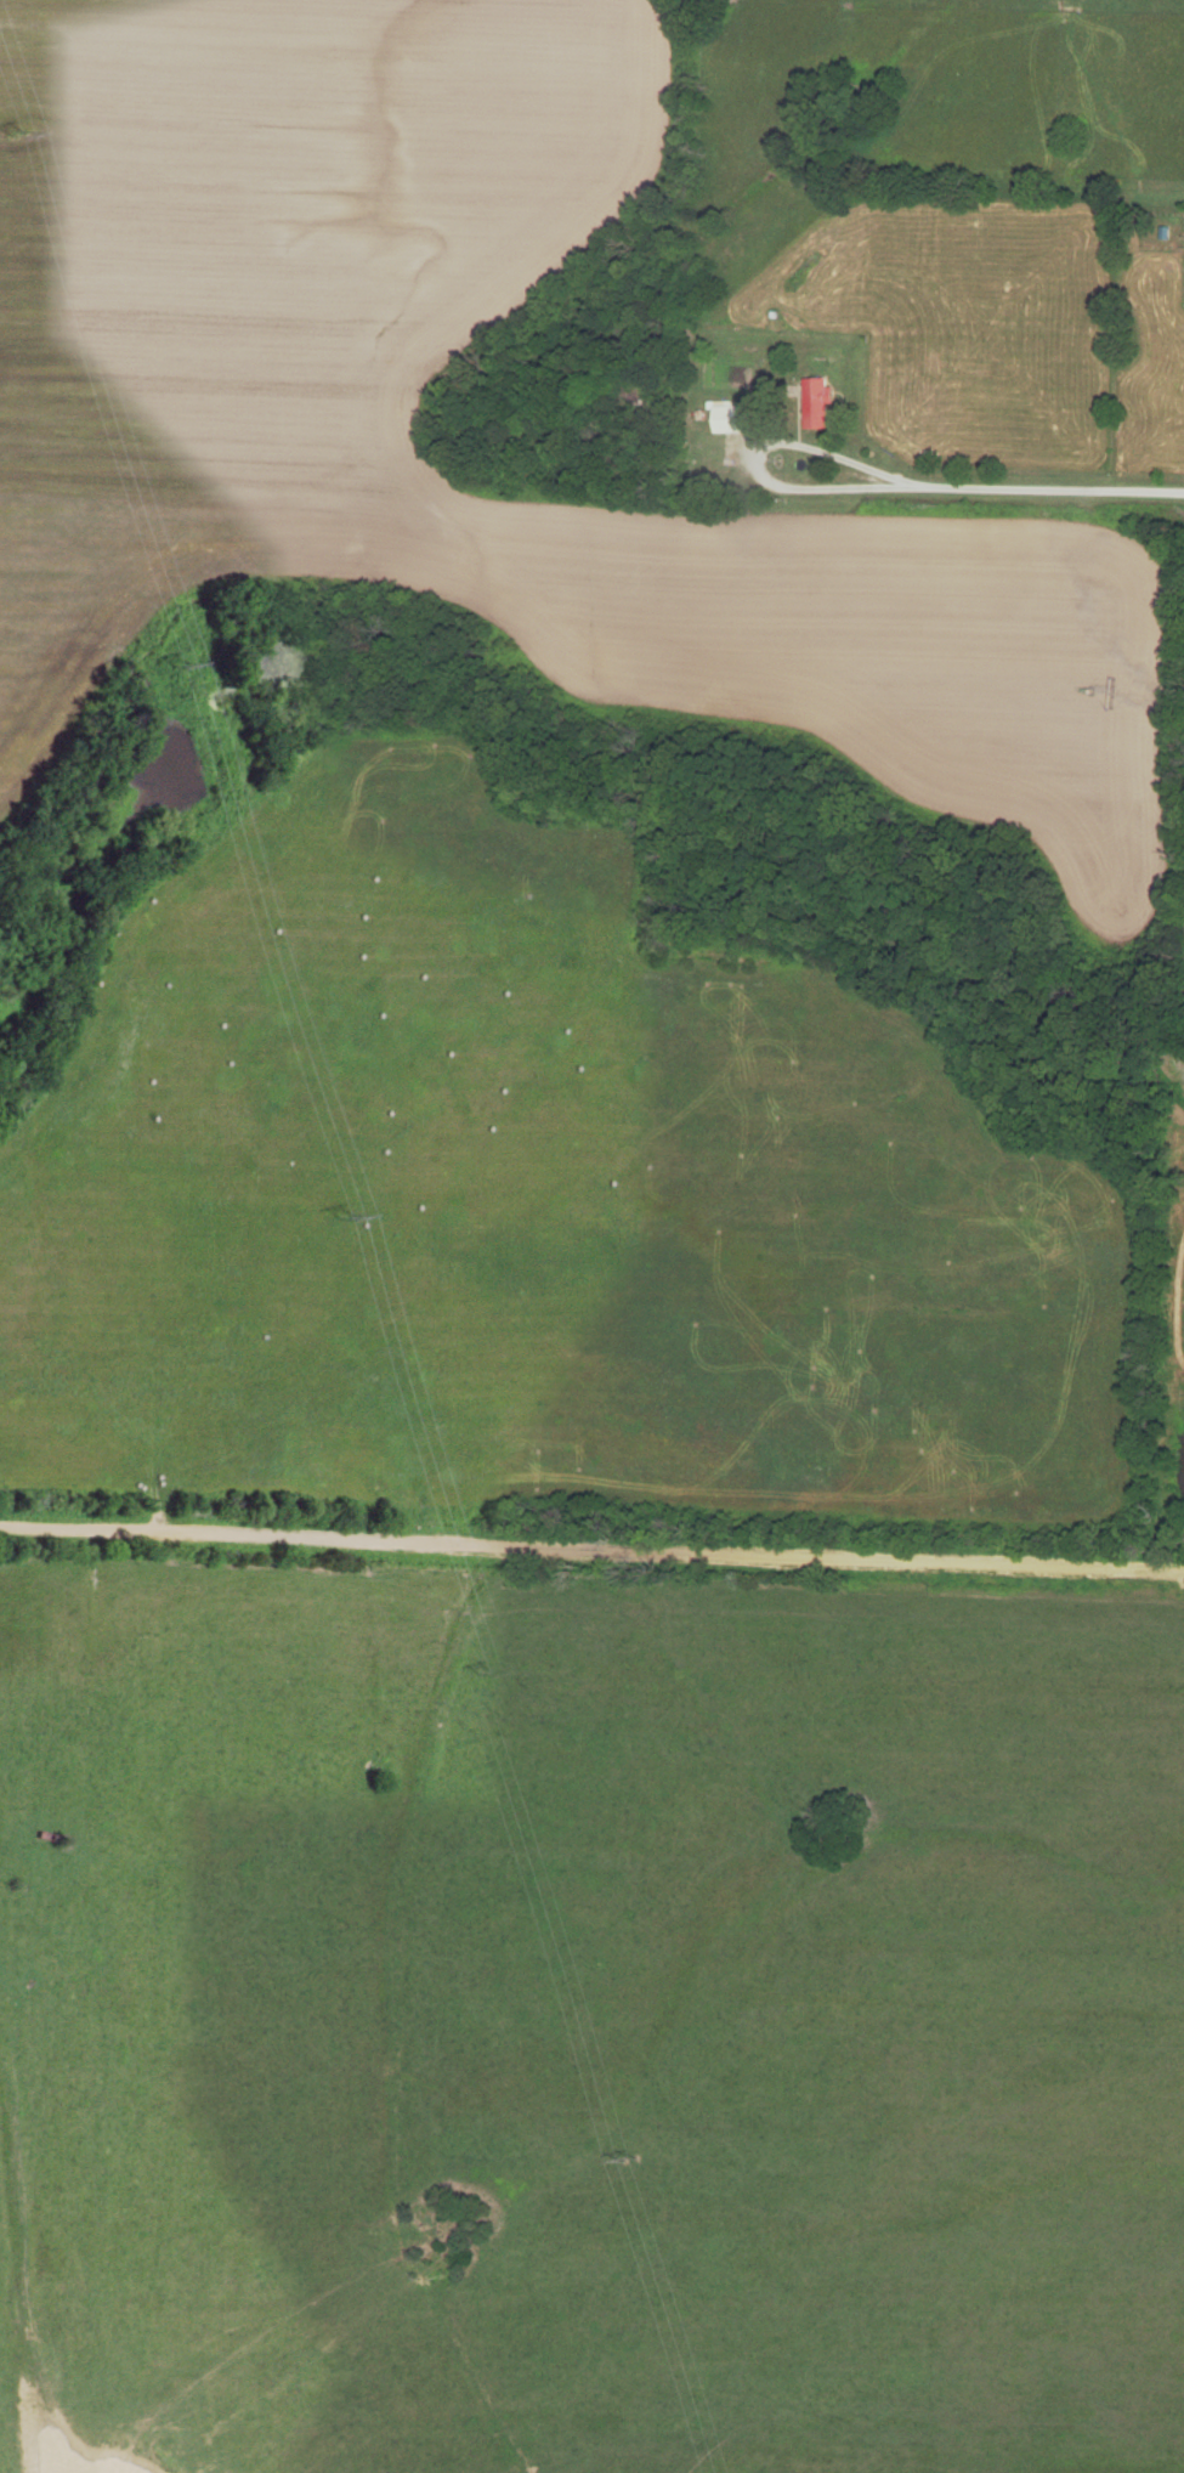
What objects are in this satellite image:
power tower: (15, 135)
building: (817, 404)
building: (737, 419)
road: (778, 485)
road: (1039, 491)
power tower: (185, 662)
power tower: (346, 1215)
road: (591, 1549)
power tower: (487, 1677)
power tower: (629, 2161)

